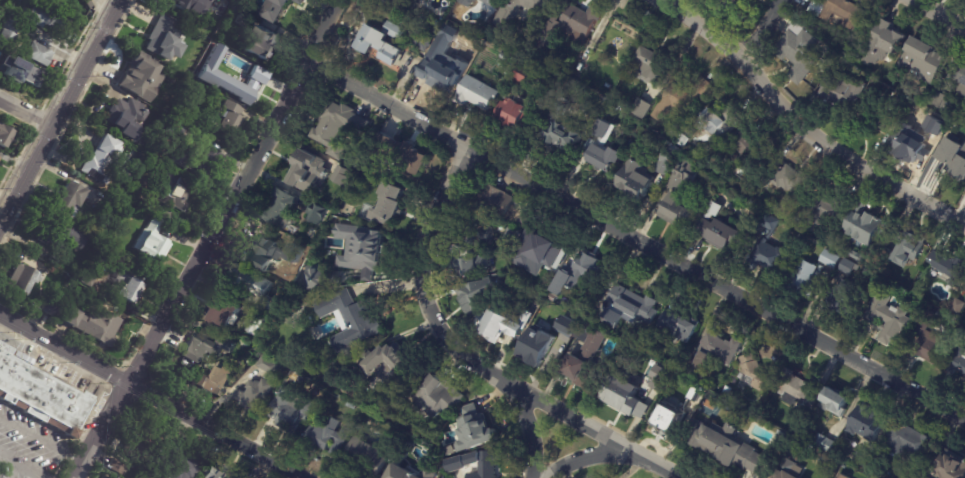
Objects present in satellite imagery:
building: (466, 2)
building: (490, 2)
building: (400, 3)
building: (731, 3)
building: (194, 6)
building: (278, 9)
building: (518, 11)
building: (840, 12)
road: (936, 15)
building: (45, 18)
building: (243, 19)
building: (571, 26)
building: (451, 29)
road: (760, 31)
building: (7, 34)
building: (164, 41)
building: (504, 41)
building: (421, 42)
building: (263, 43)
building: (383, 43)
building: (883, 44)
building: (800, 52)
building: (38, 54)
building: (194, 56)
building: (624, 56)
building: (486, 57)
building: (923, 62)
building: (654, 64)
building: (446, 66)
building: (19, 72)
building: (526, 75)
building: (212, 76)
building: (142, 78)
building: (961, 83)
building: (845, 92)
building: (477, 94)
building: (196, 95)
building: (682, 99)
building: (946, 103)
building: (904, 104)
road: (58, 106)
building: (641, 109)
building: (876, 113)
road: (23, 114)
building: (513, 115)
building: (127, 118)
building: (715, 120)
building: (228, 122)
building: (941, 124)
building: (562, 126)
road: (799, 127)
building: (338, 128)
building: (174, 131)
building: (4, 136)
building: (683, 141)
building: (912, 142)
building: (603, 150)
building: (751, 151)
building: (400, 153)
building: (953, 155)
building: (668, 159)
building: (102, 161)
building: (199, 162)
building: (308, 173)
building: (341, 176)
building: (791, 180)
building: (635, 183)
building: (139, 190)
building: (173, 192)
building: (679, 192)
building: (69, 200)
building: (494, 202)
building: (387, 205)
building: (112, 206)
building: (283, 212)
building: (823, 213)
building: (318, 215)
building: (523, 223)
building: (863, 227)
building: (718, 228)
building: (477, 233)
building: (311, 236)
building: (63, 237)
building: (512, 237)
road: (210, 240)
road: (634, 240)
building: (152, 243)
building: (909, 248)
building: (259, 249)
building: (769, 250)
building: (539, 251)
building: (362, 252)
building: (886, 256)
building: (856, 257)
building: (828, 258)
building: (53, 261)
building: (467, 264)
building: (845, 267)
building: (949, 267)
building: (580, 274)
building: (90, 278)
building: (316, 278)
building: (23, 279)
building: (804, 281)
building: (126, 287)
building: (255, 288)
building: (918, 288)
building: (478, 293)
building: (840, 300)
building: (531, 302)
building: (958, 308)
building: (53, 309)
building: (629, 309)
building: (221, 313)
building: (489, 315)
building: (890, 320)
building: (351, 321)
road: (438, 324)
building: (95, 326)
building: (677, 328)
building: (256, 330)
building: (929, 342)
building: (252, 344)
building: (537, 346)
building: (199, 349)
building: (719, 350)
building: (590, 353)
building: (250, 362)
building: (958, 362)
building: (270, 366)
building: (388, 369)
building: (755, 373)
building: (337, 376)
building: (660, 379)
building: (214, 382)
building: (795, 389)
building: (727, 391)
road: (151, 393)
building: (40, 394)
building: (255, 395)
building: (696, 395)
building: (437, 400)
building: (628, 400)
building: (834, 402)
building: (352, 406)
building: (291, 413)
building: (803, 413)
building: (368, 418)
building: (669, 420)
building: (866, 425)
building: (473, 429)
road: (594, 430)
building: (782, 437)
road: (43, 438)
building: (330, 438)
building: (906, 442)
building: (139, 444)
building: (824, 444)
building: (726, 447)
road: (583, 458)
building: (861, 458)
building: (367, 459)
road: (23, 464)
building: (180, 465)
building: (476, 465)
building: (950, 465)
building: (119, 466)
road: (633, 467)
building: (788, 469)
building: (398, 473)
building: (427, 473)
building: (216, 474)
road: (559, 474)
building: (839, 476)
building: (842, 476)
building: (111, 477)
building: (113, 477)

